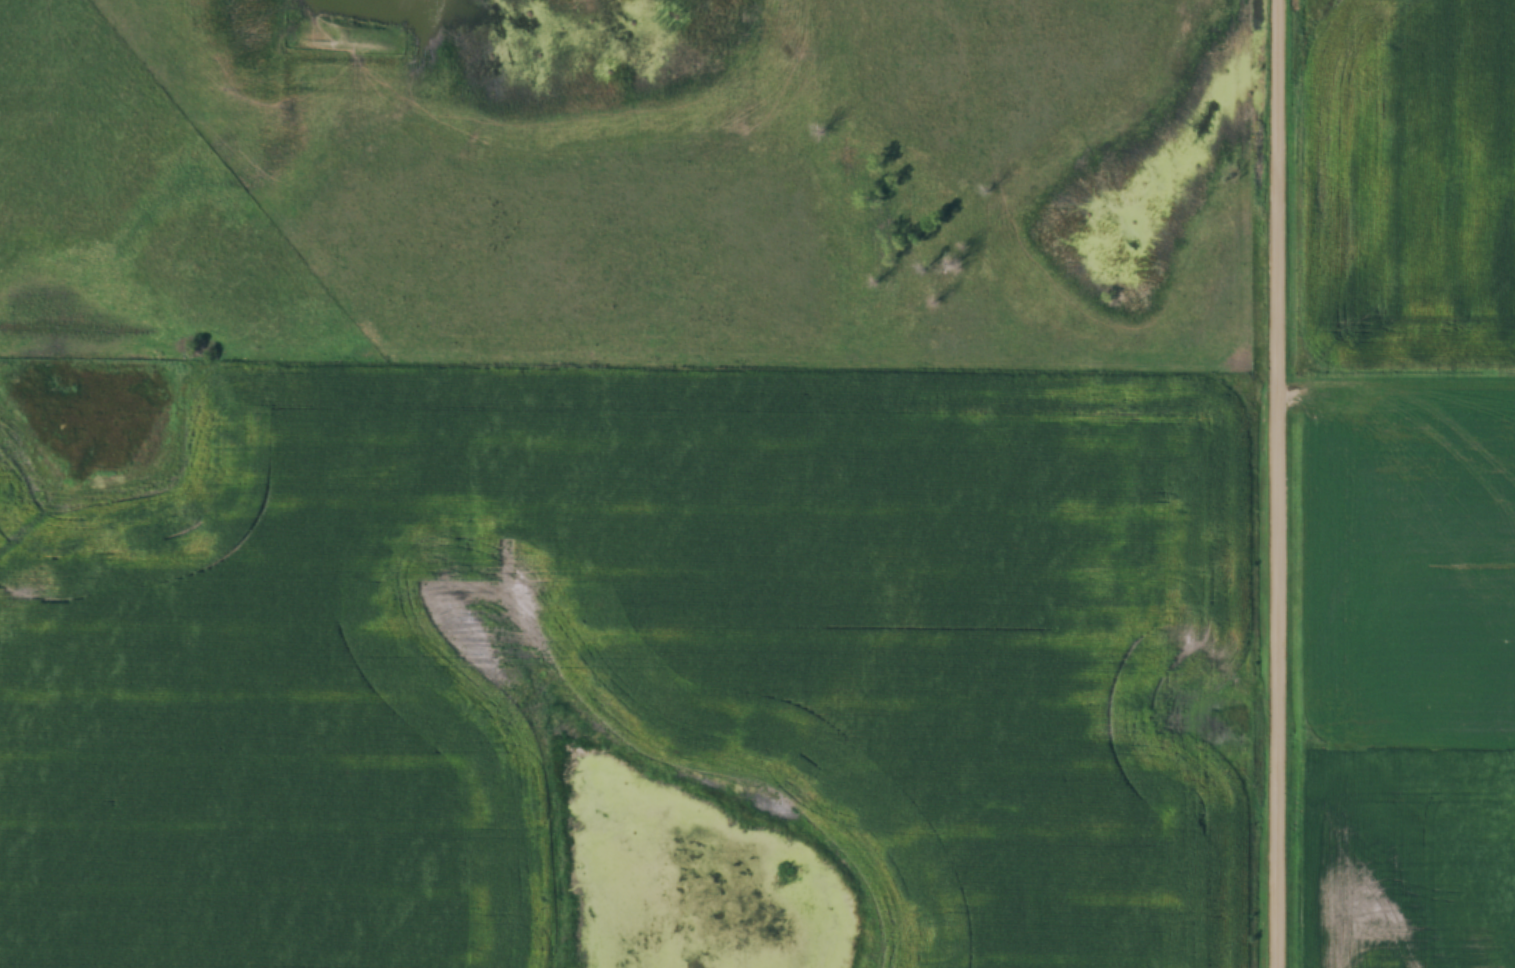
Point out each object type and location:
road: (1282, 484)

